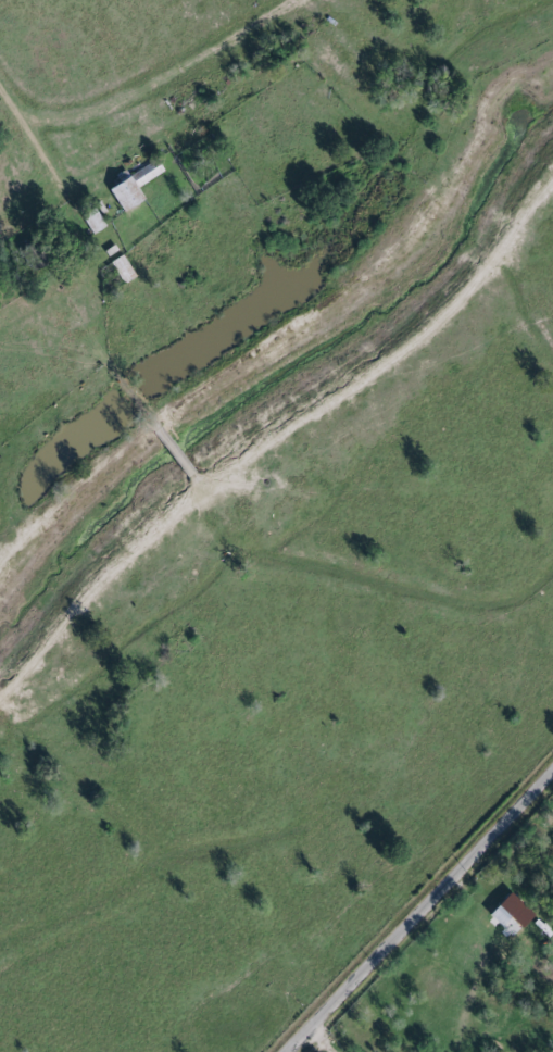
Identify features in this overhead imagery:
road: (37, 134)
building: (91, 221)
building: (122, 270)
road: (422, 913)
building: (508, 915)
road: (317, 1043)

